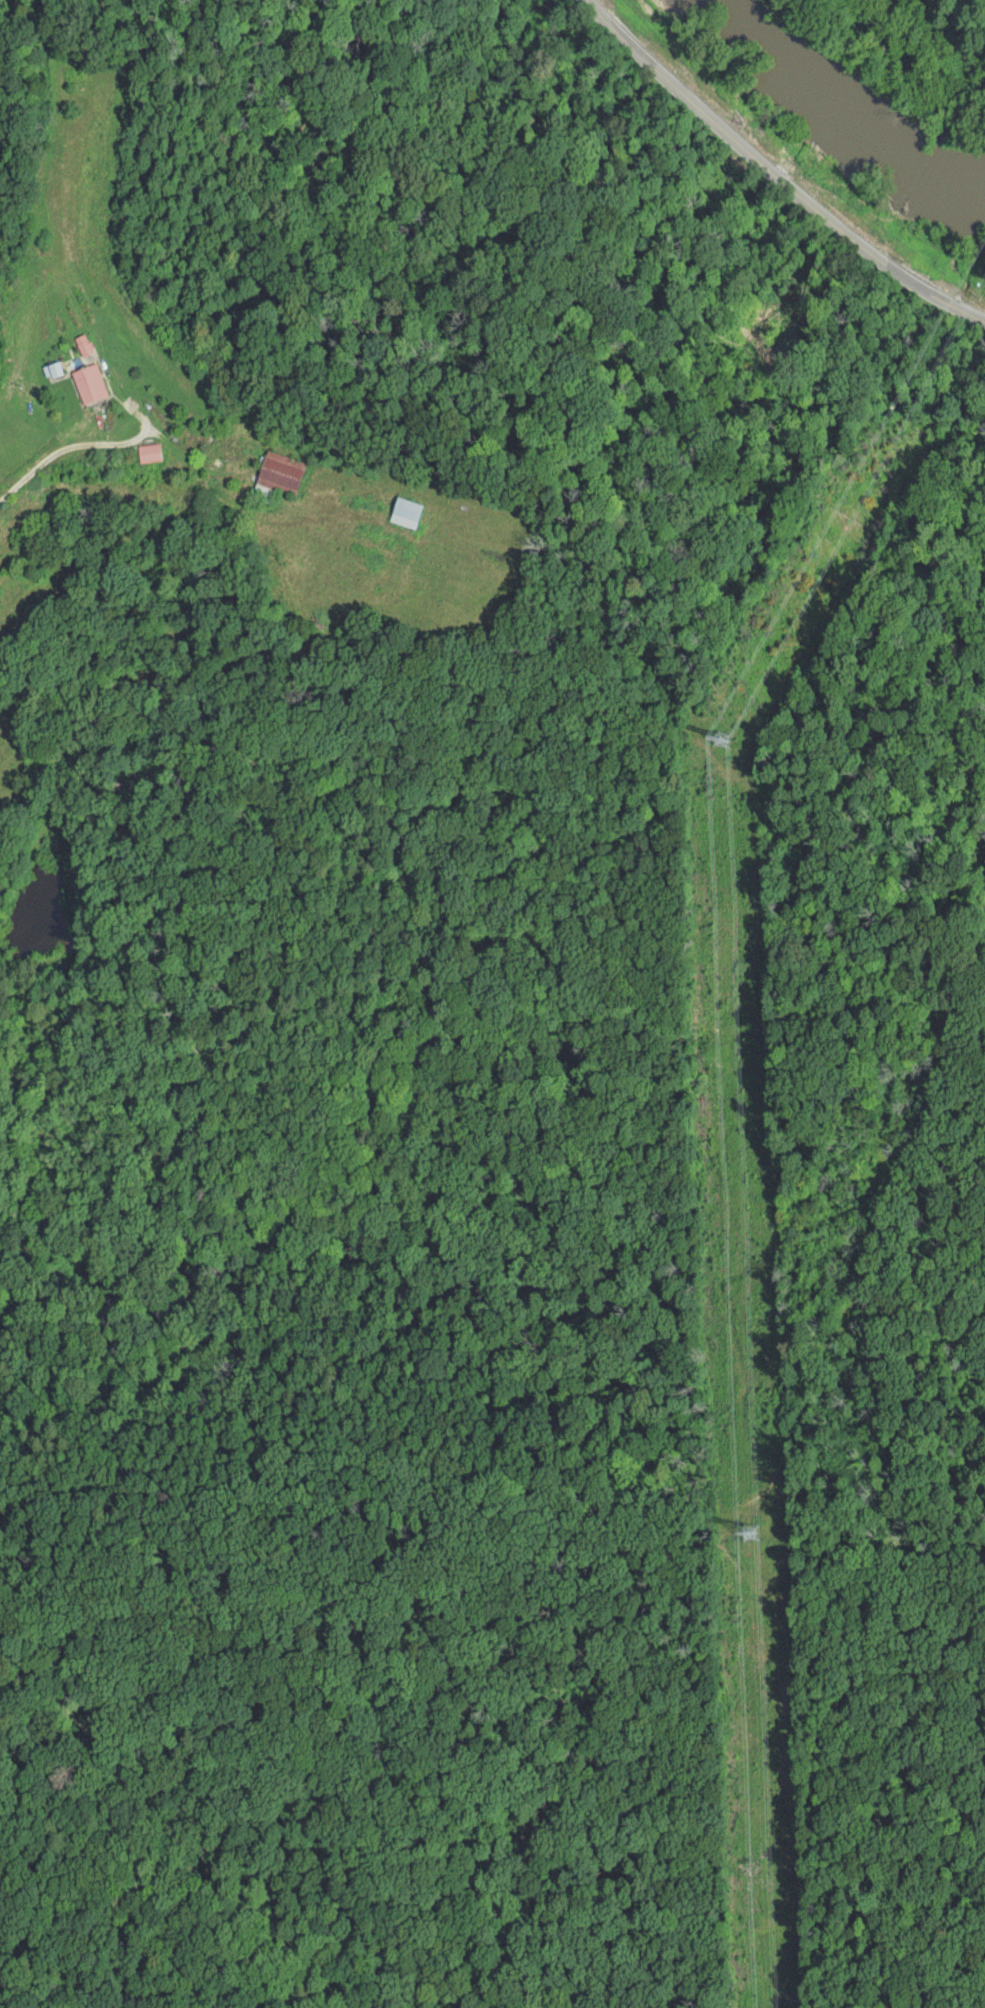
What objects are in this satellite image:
river: (840, 107)
road: (773, 177)
building: (96, 385)
road: (69, 448)
building: (148, 454)
building: (277, 478)
building: (405, 514)

